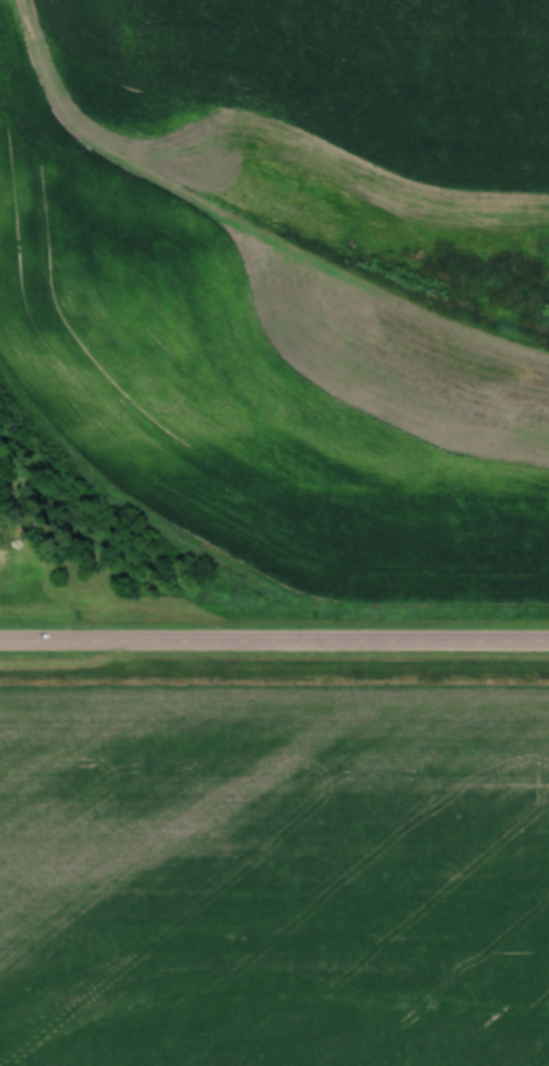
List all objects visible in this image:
road: (274, 639)

